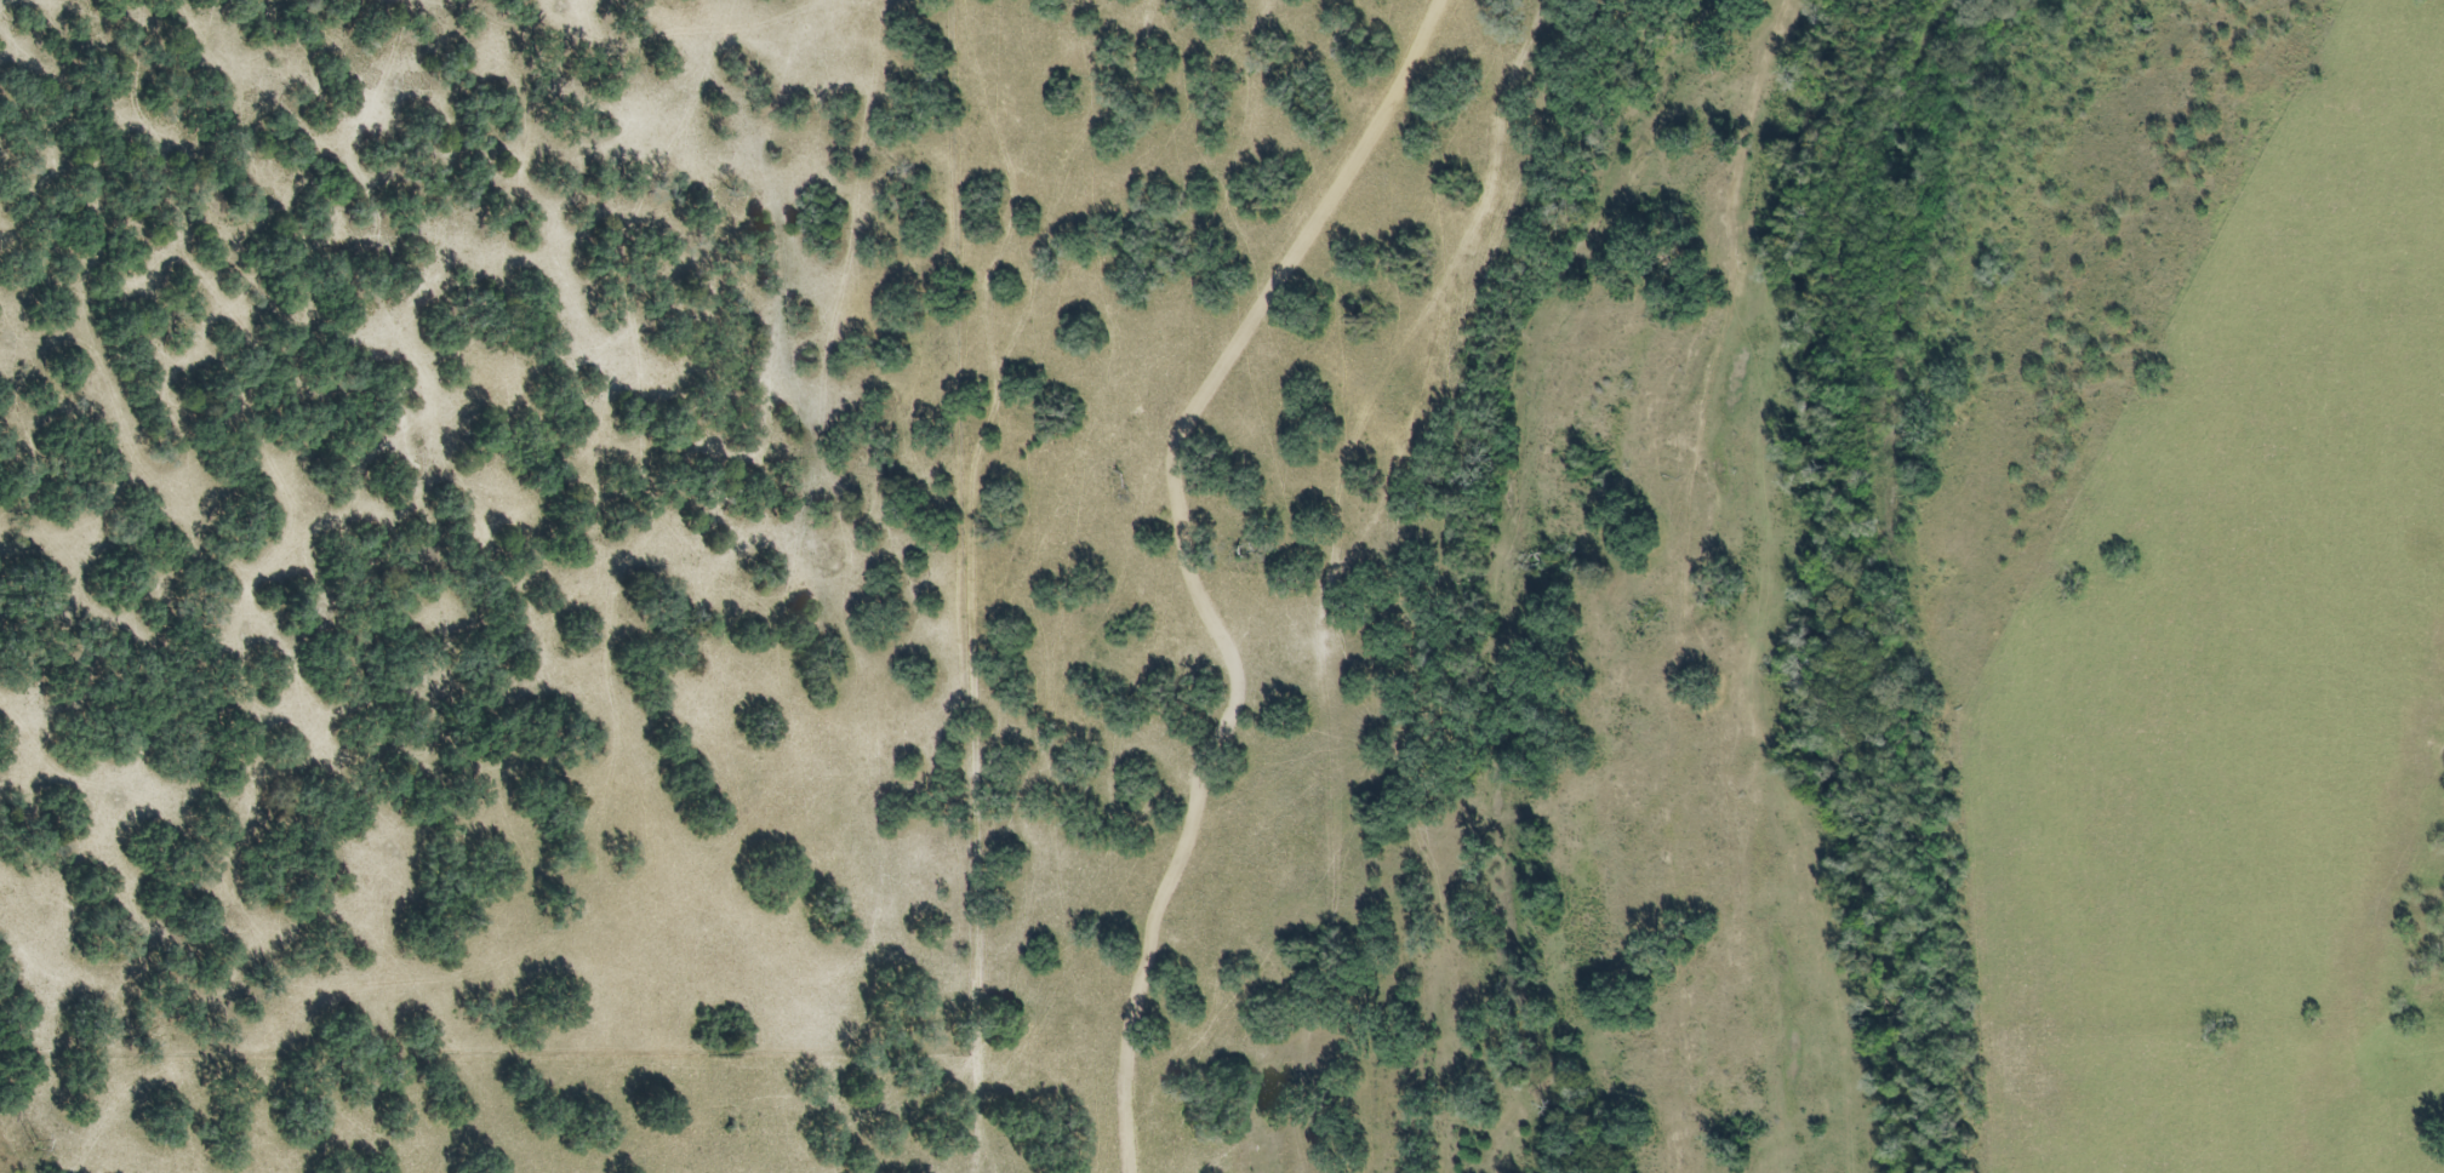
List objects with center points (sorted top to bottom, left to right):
river: (1823, 580)
power tower: (46, 1143)

